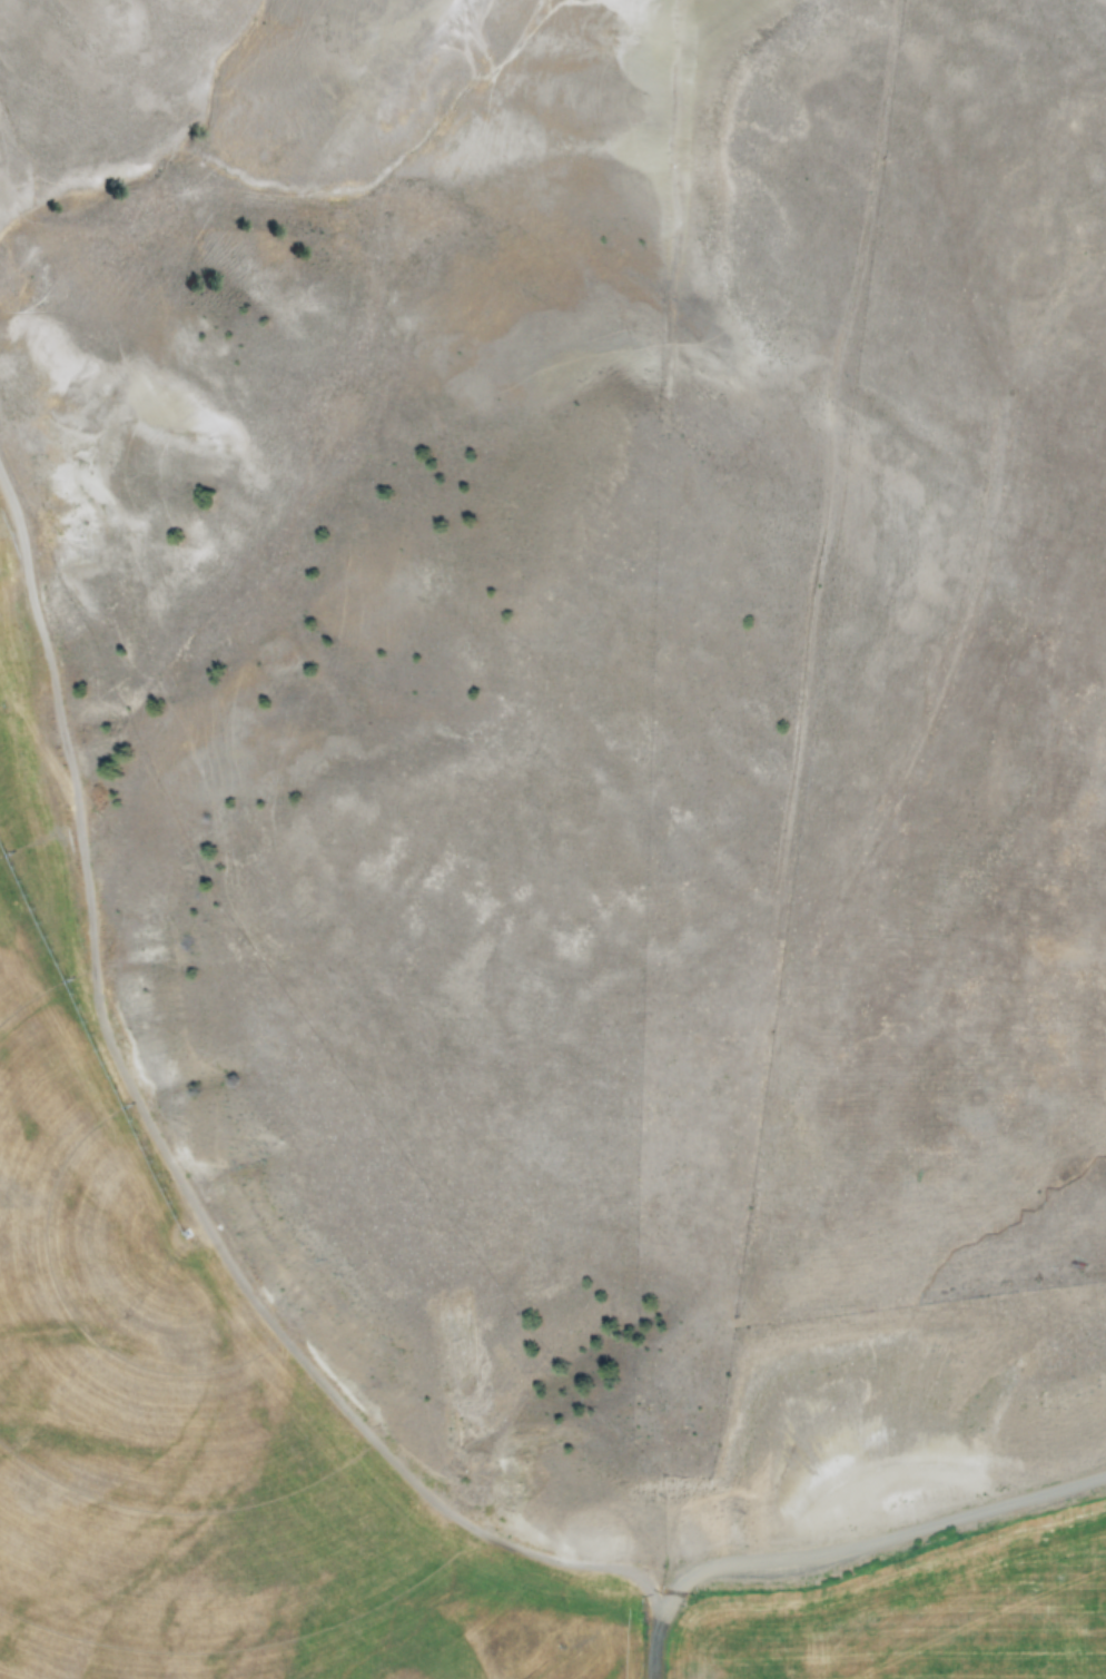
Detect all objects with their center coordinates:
road: (842, 1543)

